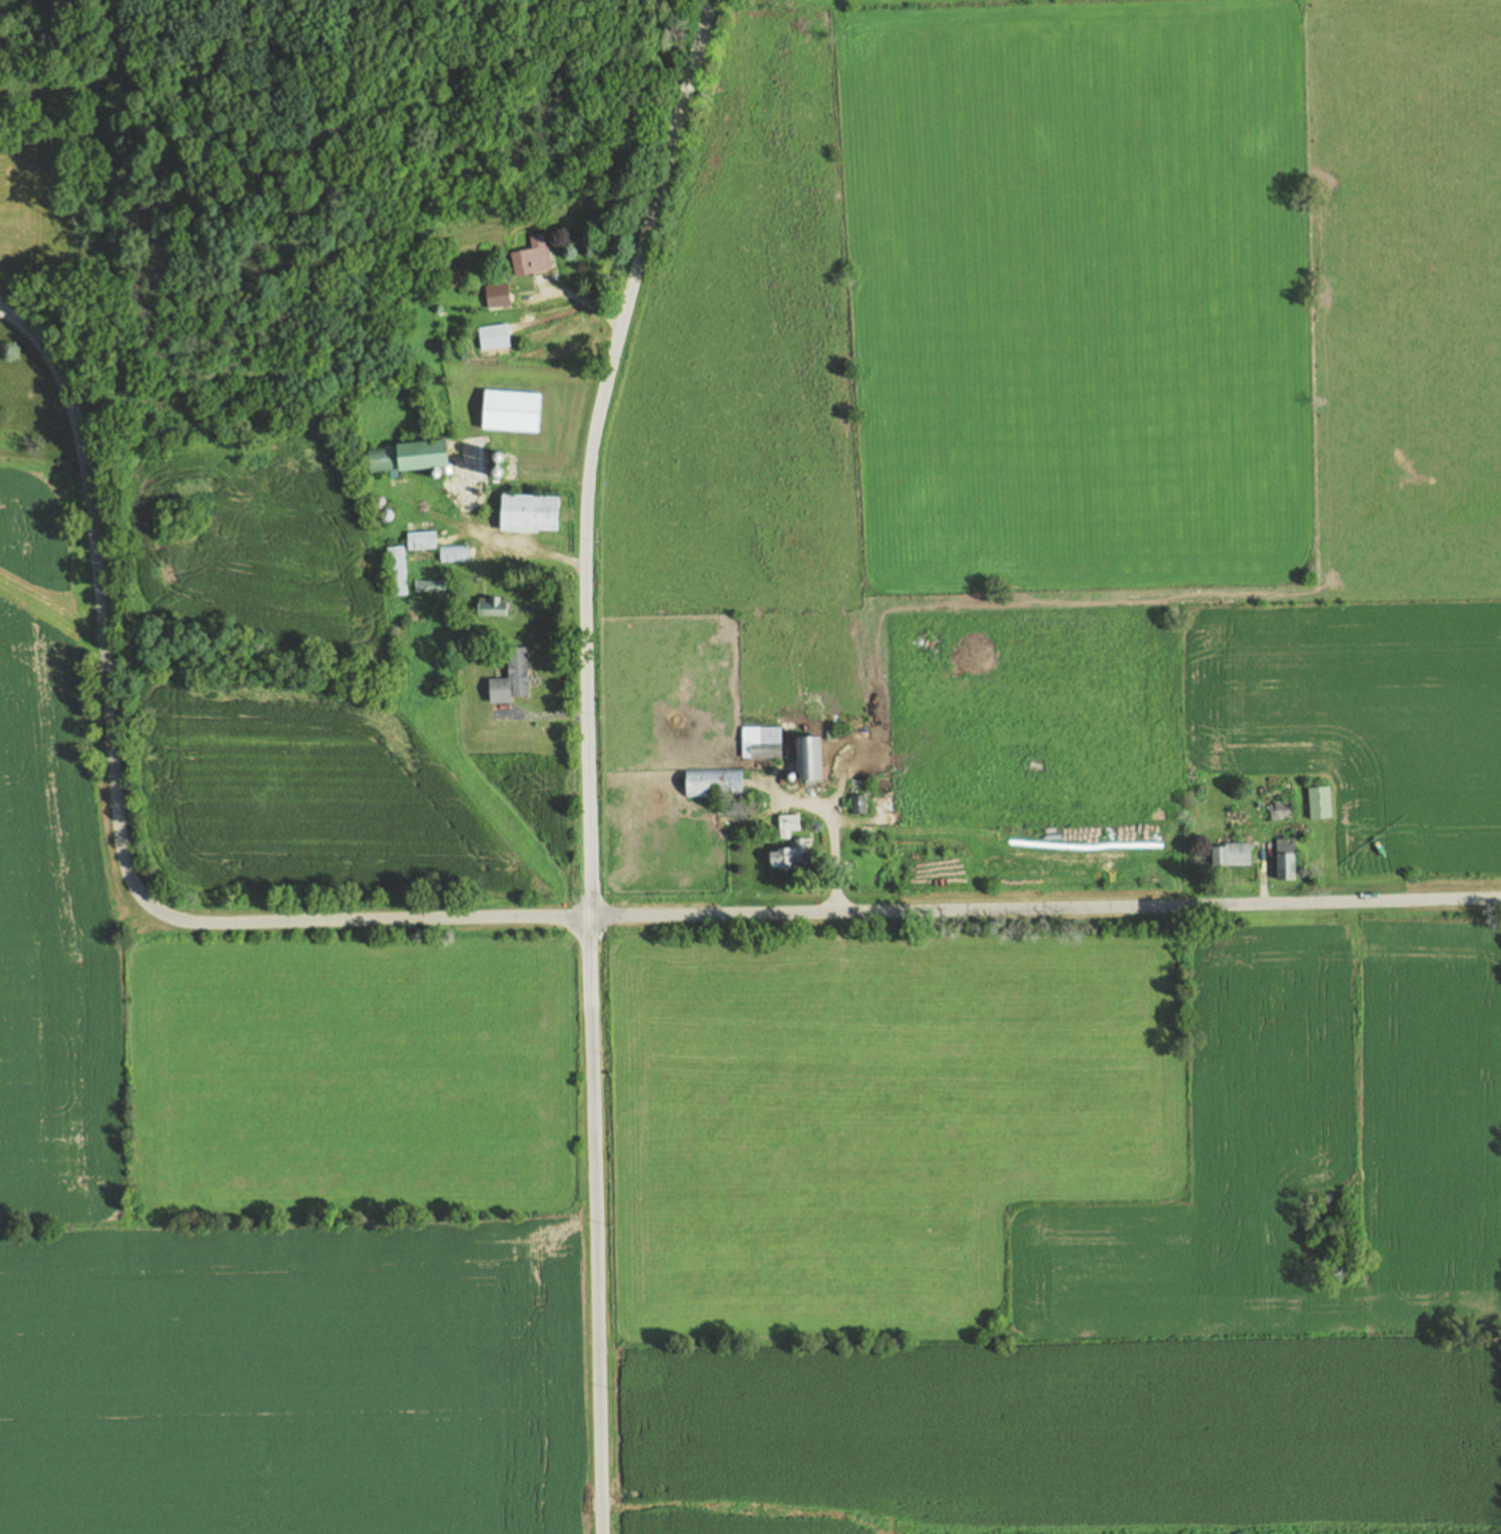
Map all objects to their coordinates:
building: (527, 257)
building: (493, 295)
road: (581, 303)
road: (549, 320)
building: (489, 337)
building: (507, 413)
building: (403, 457)
building: (497, 457)
building: (496, 472)
building: (434, 473)
building: (373, 503)
building: (524, 514)
building: (379, 516)
building: (417, 540)
road: (501, 544)
building: (450, 553)
building: (392, 570)
building: (426, 586)
building: (487, 607)
building: (411, 614)
building: (507, 680)
road: (543, 715)
building: (758, 741)
road: (587, 758)
building: (803, 758)
building: (709, 781)
building: (1315, 800)
building: (856, 804)
building: (726, 807)
building: (1277, 808)
road: (115, 818)
building: (787, 823)
road: (963, 828)
road: (832, 832)
building: (1228, 853)
building: (787, 854)
building: (1281, 857)
road: (1261, 869)
road: (1043, 906)
road: (1354, 1046)

